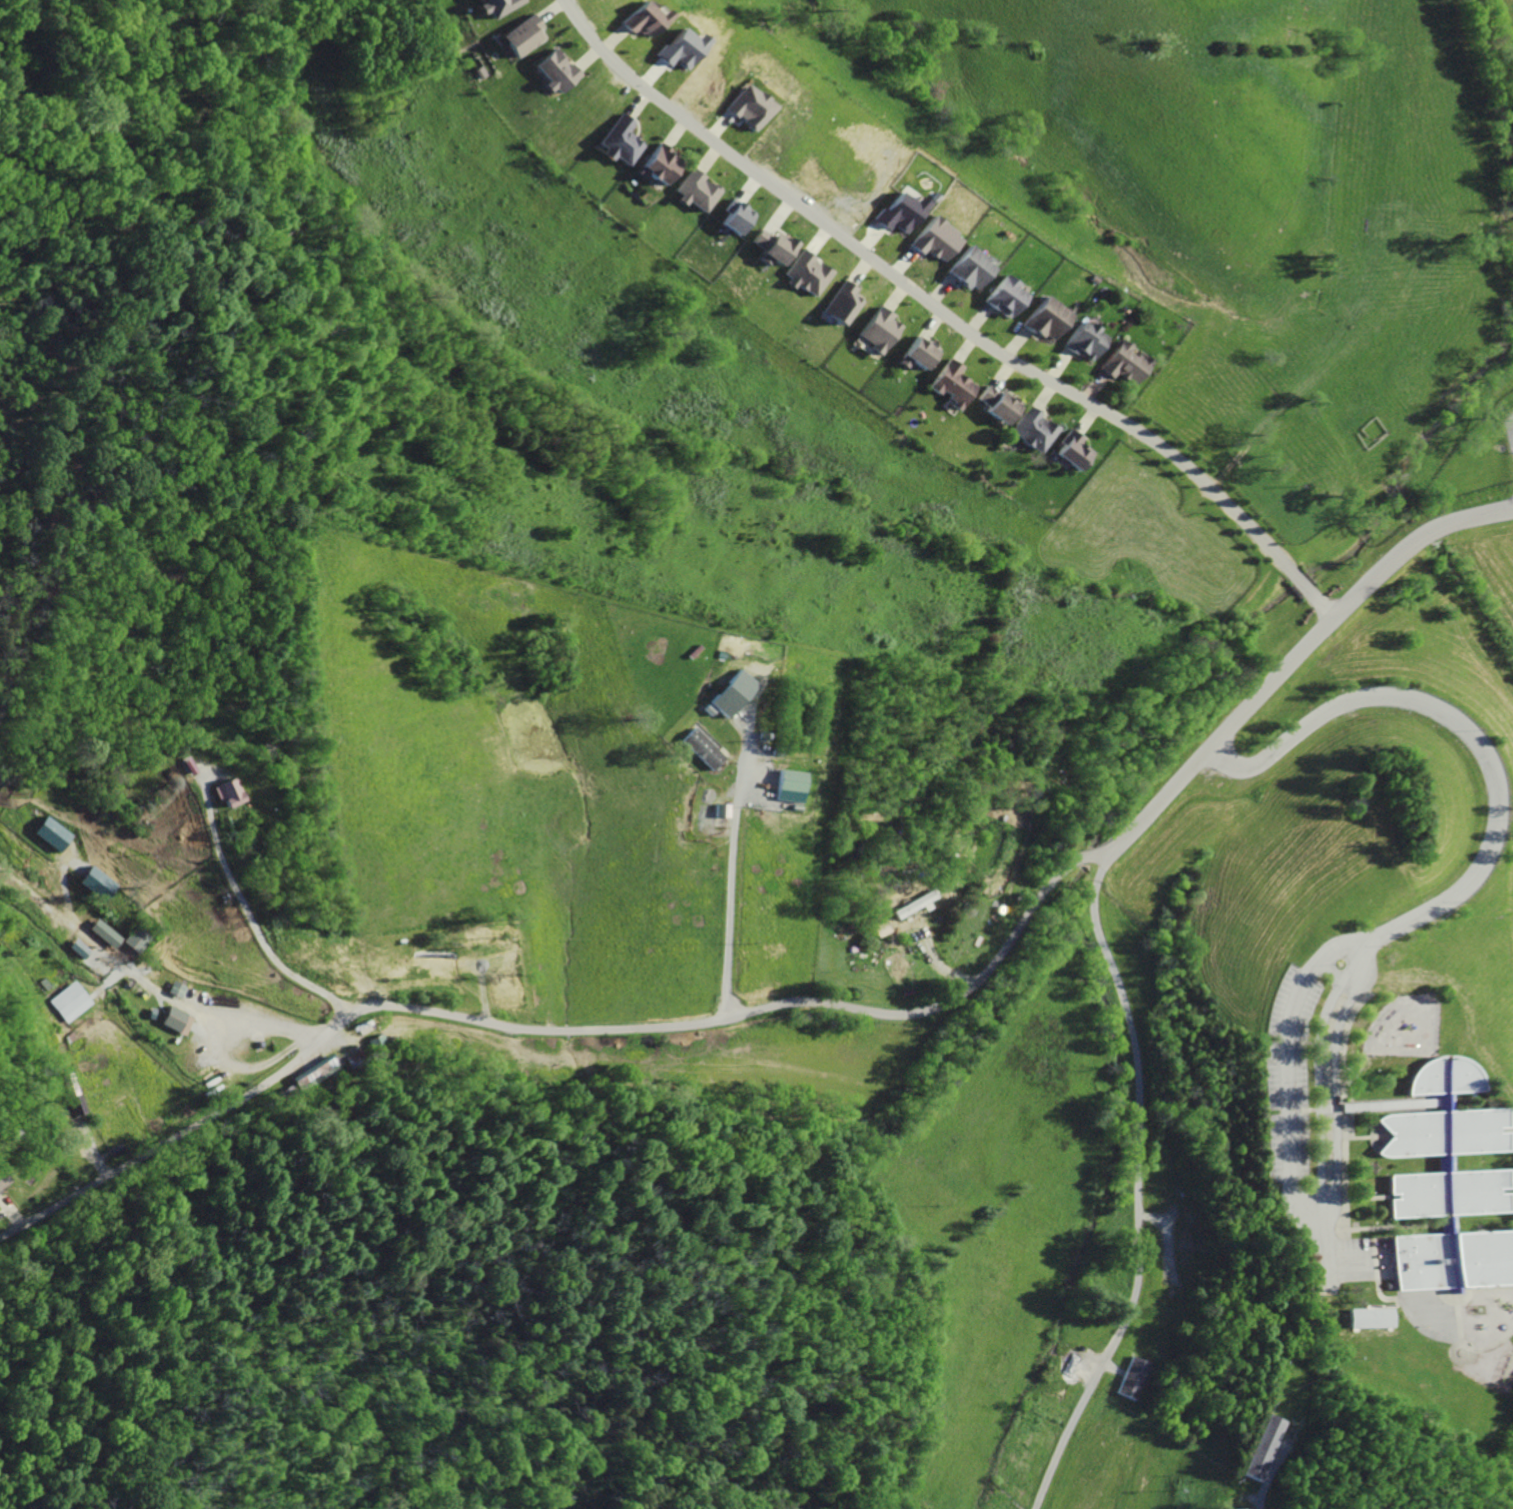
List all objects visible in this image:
building: (494, 7)
building: (641, 22)
building: (519, 38)
building: (675, 50)
building: (559, 70)
building: (745, 108)
building: (619, 138)
building: (656, 167)
building: (698, 188)
building: (895, 213)
building: (734, 219)
building: (929, 241)
building: (770, 247)
building: (967, 269)
building: (805, 276)
building: (1002, 298)
building: (838, 304)
road: (944, 316)
building: (1042, 320)
building: (877, 328)
building: (1082, 341)
building: (914, 354)
building: (1122, 365)
building: (948, 385)
building: (994, 405)
building: (1031, 430)
building: (1070, 452)
road: (1288, 665)
building: (727, 693)
road: (1470, 736)
building: (701, 750)
building: (788, 781)
building: (223, 793)
building: (50, 833)
road: (730, 875)
building: (92, 882)
building: (911, 906)
road: (248, 914)
building: (103, 933)
building: (76, 949)
building: (69, 1002)
building: (174, 1020)
road: (239, 1025)
road: (542, 1031)
building: (313, 1072)
road: (1139, 1186)
building: (1448, 1187)
road: (1300, 1198)
road: (1325, 1258)
building: (1370, 1318)
building: (1133, 1378)
building: (1262, 1448)

